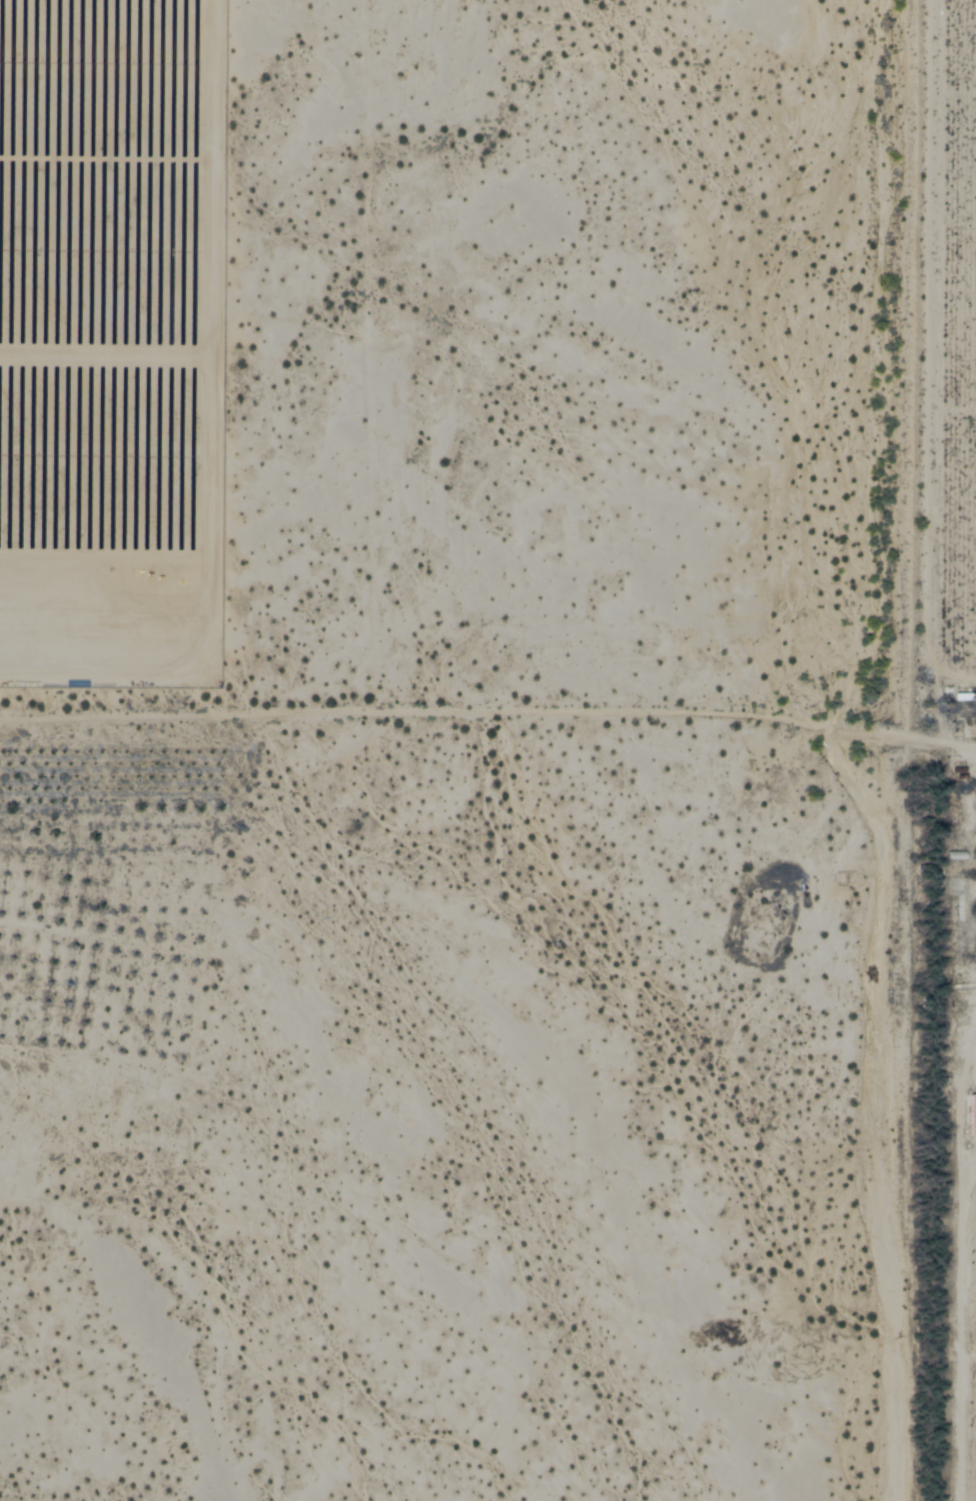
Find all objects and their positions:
solar farm: (114, 345)
building: (955, 919)
building: (974, 1113)

